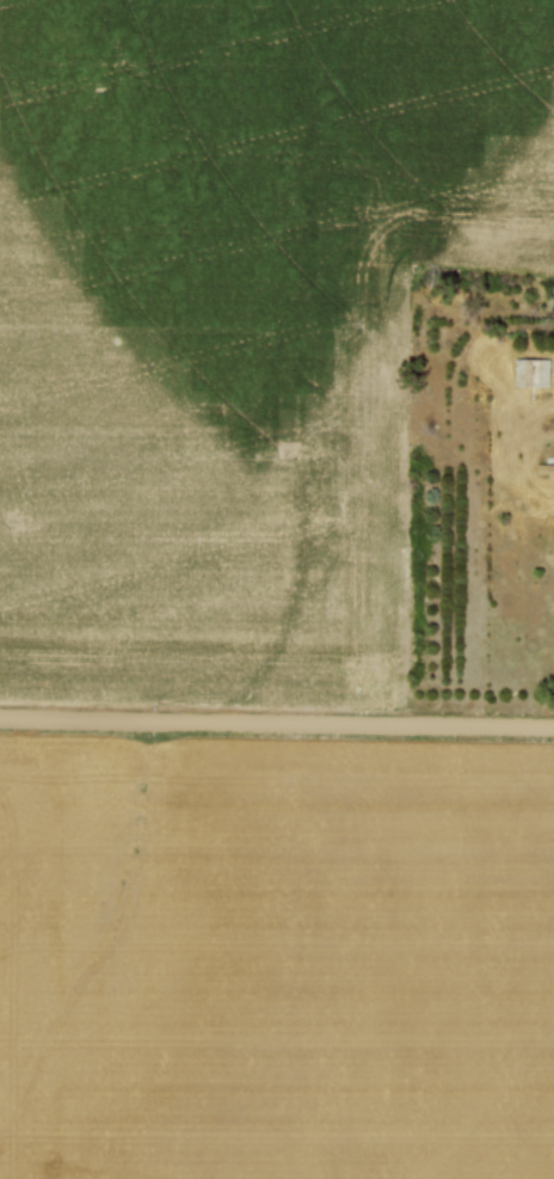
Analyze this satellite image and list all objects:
crop: (238, 325)
building: (531, 370)
building: (553, 471)
road: (276, 724)
crop: (276, 959)

